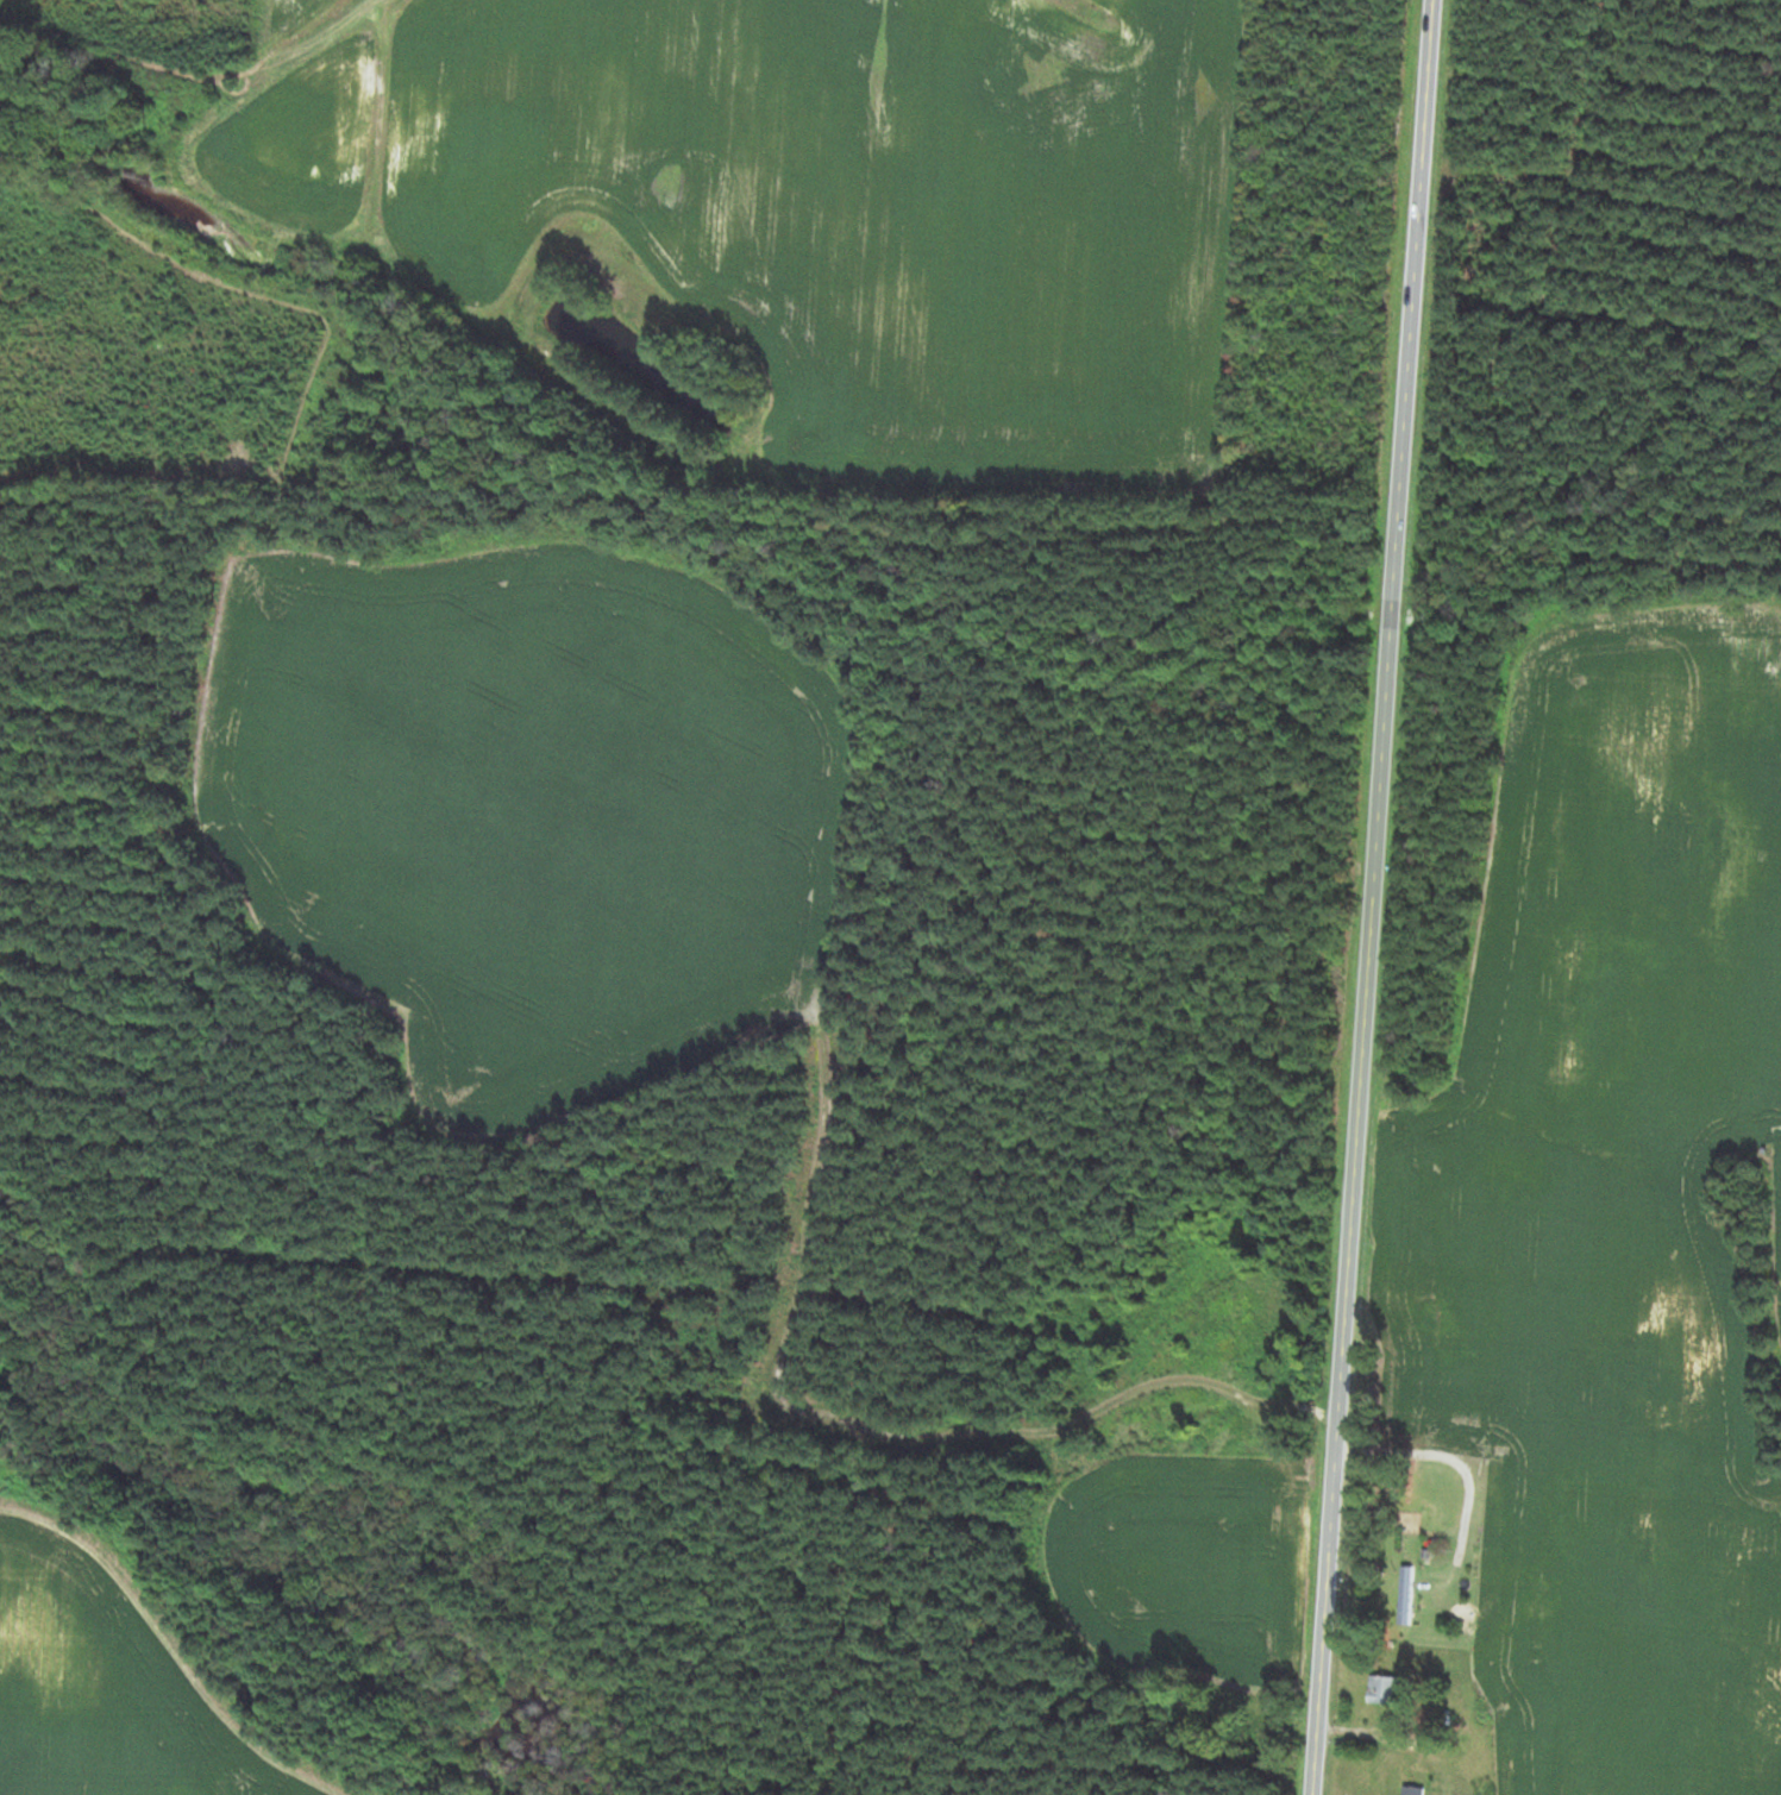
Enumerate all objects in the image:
road: (1418, 201)
road: (1357, 1098)
building: (1410, 1513)
building: (1405, 1596)
building: (1382, 1690)
building: (1412, 1790)

